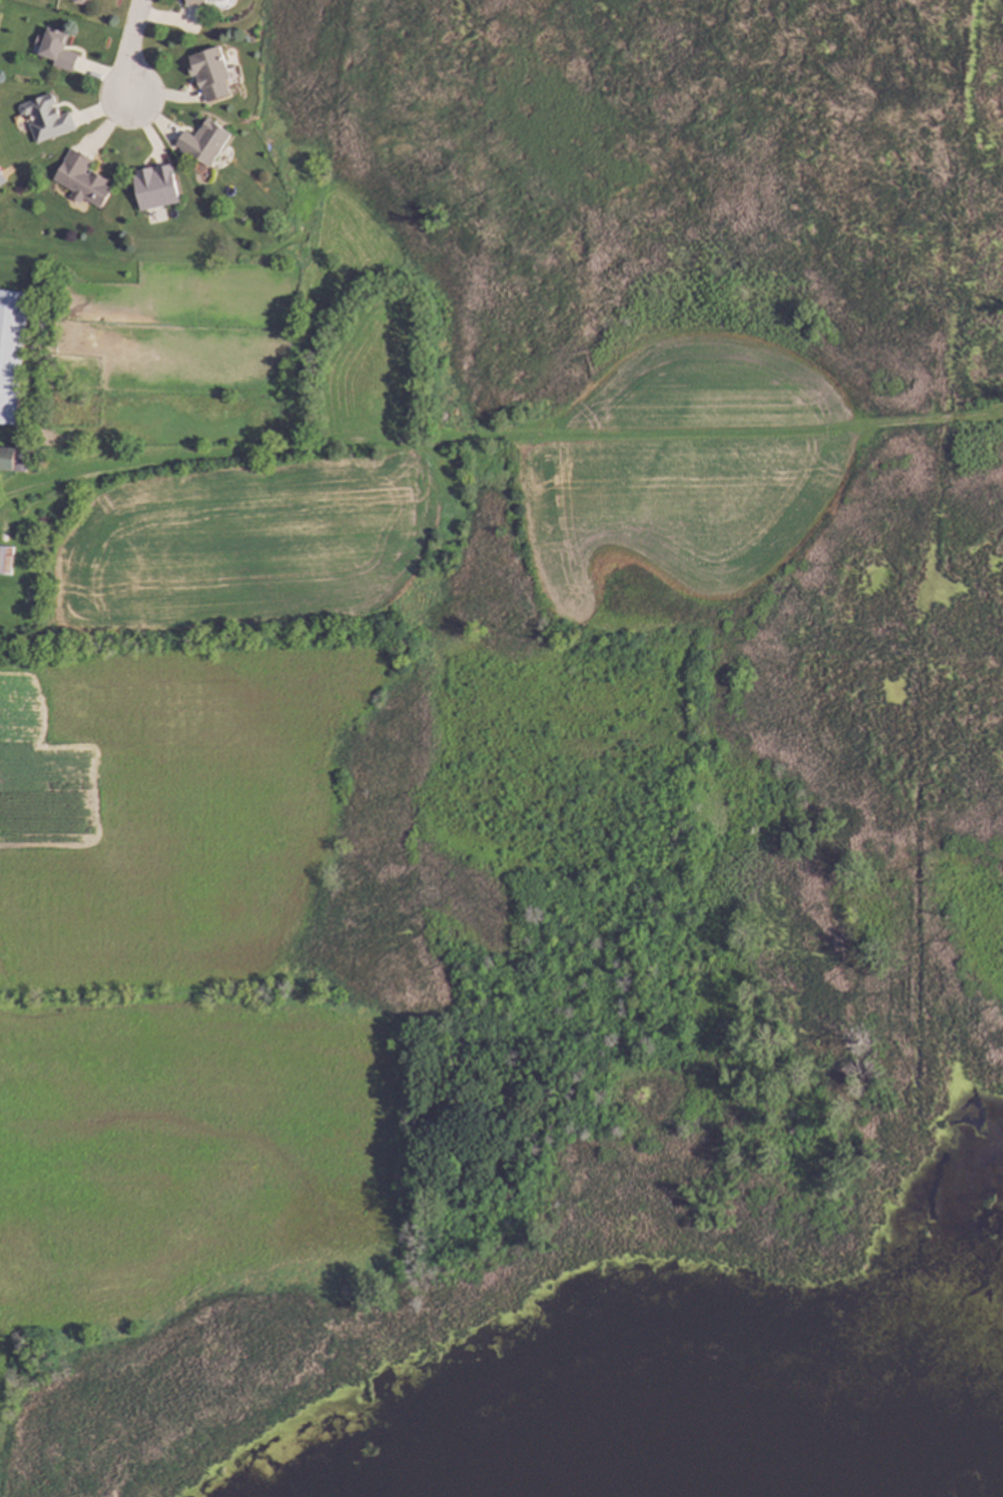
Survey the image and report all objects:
building: (217, 0)
building: (79, 1)
building: (194, 3)
road: (130, 49)
building: (54, 50)
building: (210, 73)
building: (45, 118)
building: (204, 142)
building: (2, 180)
building: (81, 180)
building: (155, 187)
building: (11, 352)
road: (499, 433)
building: (7, 459)
crop: (684, 479)
crop: (246, 543)
building: (6, 560)
crop: (169, 814)
crop: (184, 1159)

